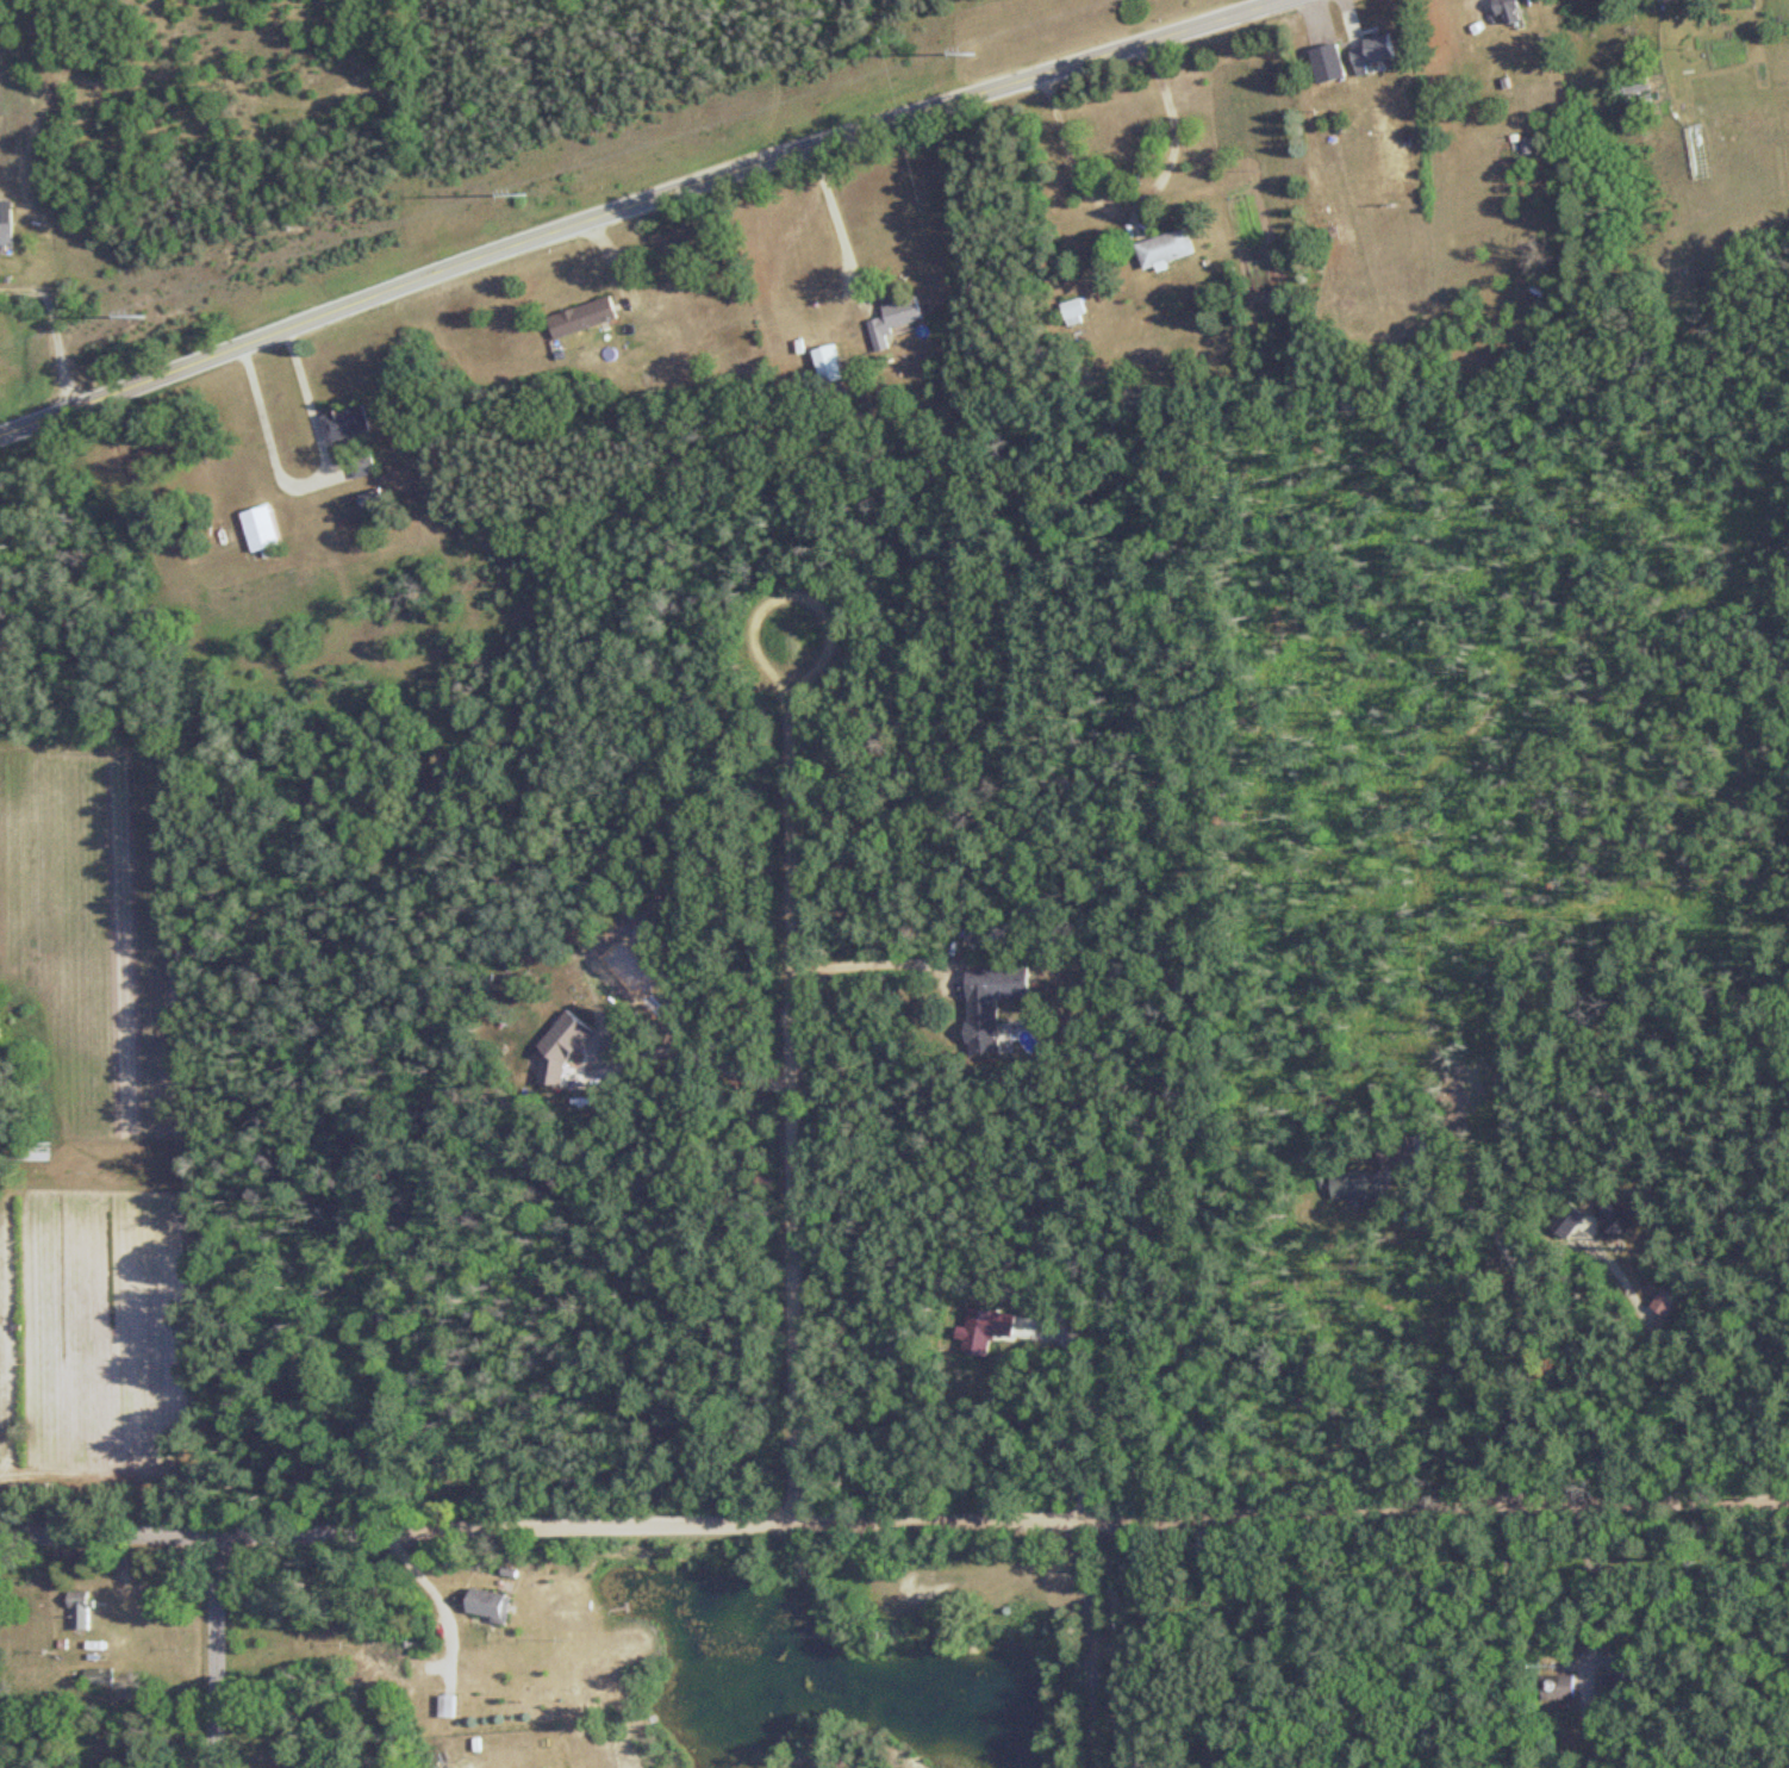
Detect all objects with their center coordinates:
building: (1662, 0)
building: (1504, 12)
power tower: (971, 52)
building: (1371, 52)
road: (1137, 187)
power tower: (526, 194)
road: (837, 207)
road: (629, 208)
building: (5, 236)
building: (1165, 251)
building: (1073, 311)
power tower: (141, 316)
building: (581, 318)
road: (58, 320)
building: (893, 320)
building: (828, 365)
building: (343, 424)
road: (311, 478)
building: (260, 533)
road: (874, 964)
road: (786, 965)
building: (991, 1003)
road: (685, 1052)
building: (1386, 1159)
building: (1354, 1185)
building: (1584, 1195)
building: (1564, 1224)
building: (1614, 1228)
building: (1663, 1305)
road: (1521, 1313)
road: (894, 1513)
building: (485, 1607)
building: (76, 1612)
road: (1527, 1626)
road: (444, 1633)
road: (1059, 1637)
road: (1198, 1637)
road: (211, 1643)
building: (94, 1679)
building: (1613, 1682)
building: (1556, 1689)
building: (443, 1707)

